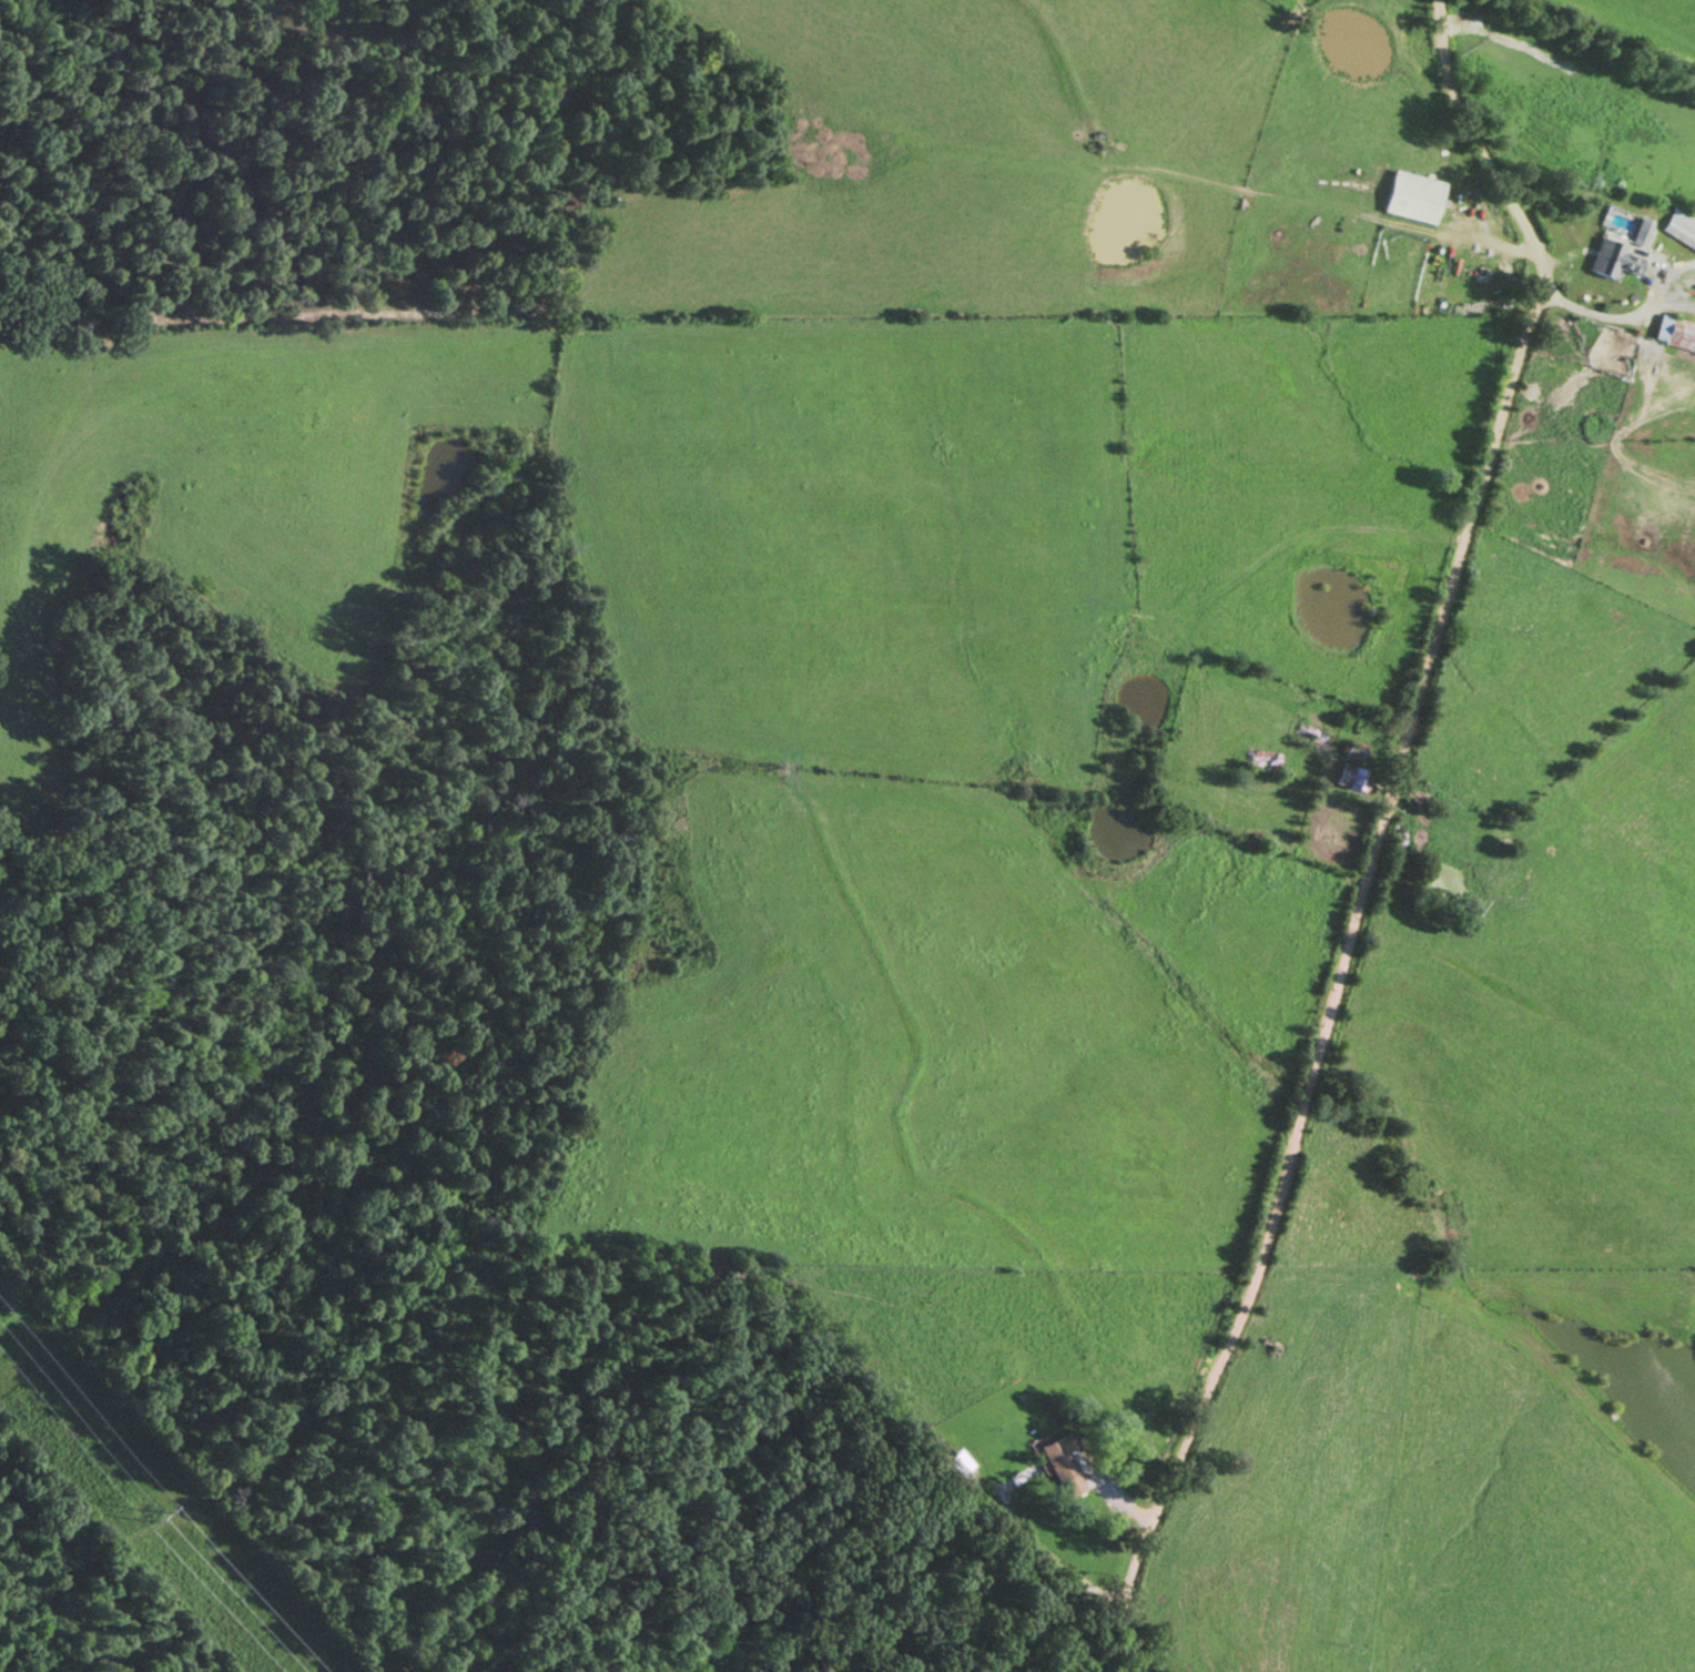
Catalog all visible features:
building: (1412, 196)
building: (1682, 225)
building: (1611, 259)
building: (1675, 332)
building: (1148, 635)
building: (1312, 738)
building: (1263, 762)
road: (1379, 830)
building: (1401, 838)
building: (1516, 880)
building: (964, 1462)
building: (1065, 1465)
power tower: (154, 1511)

